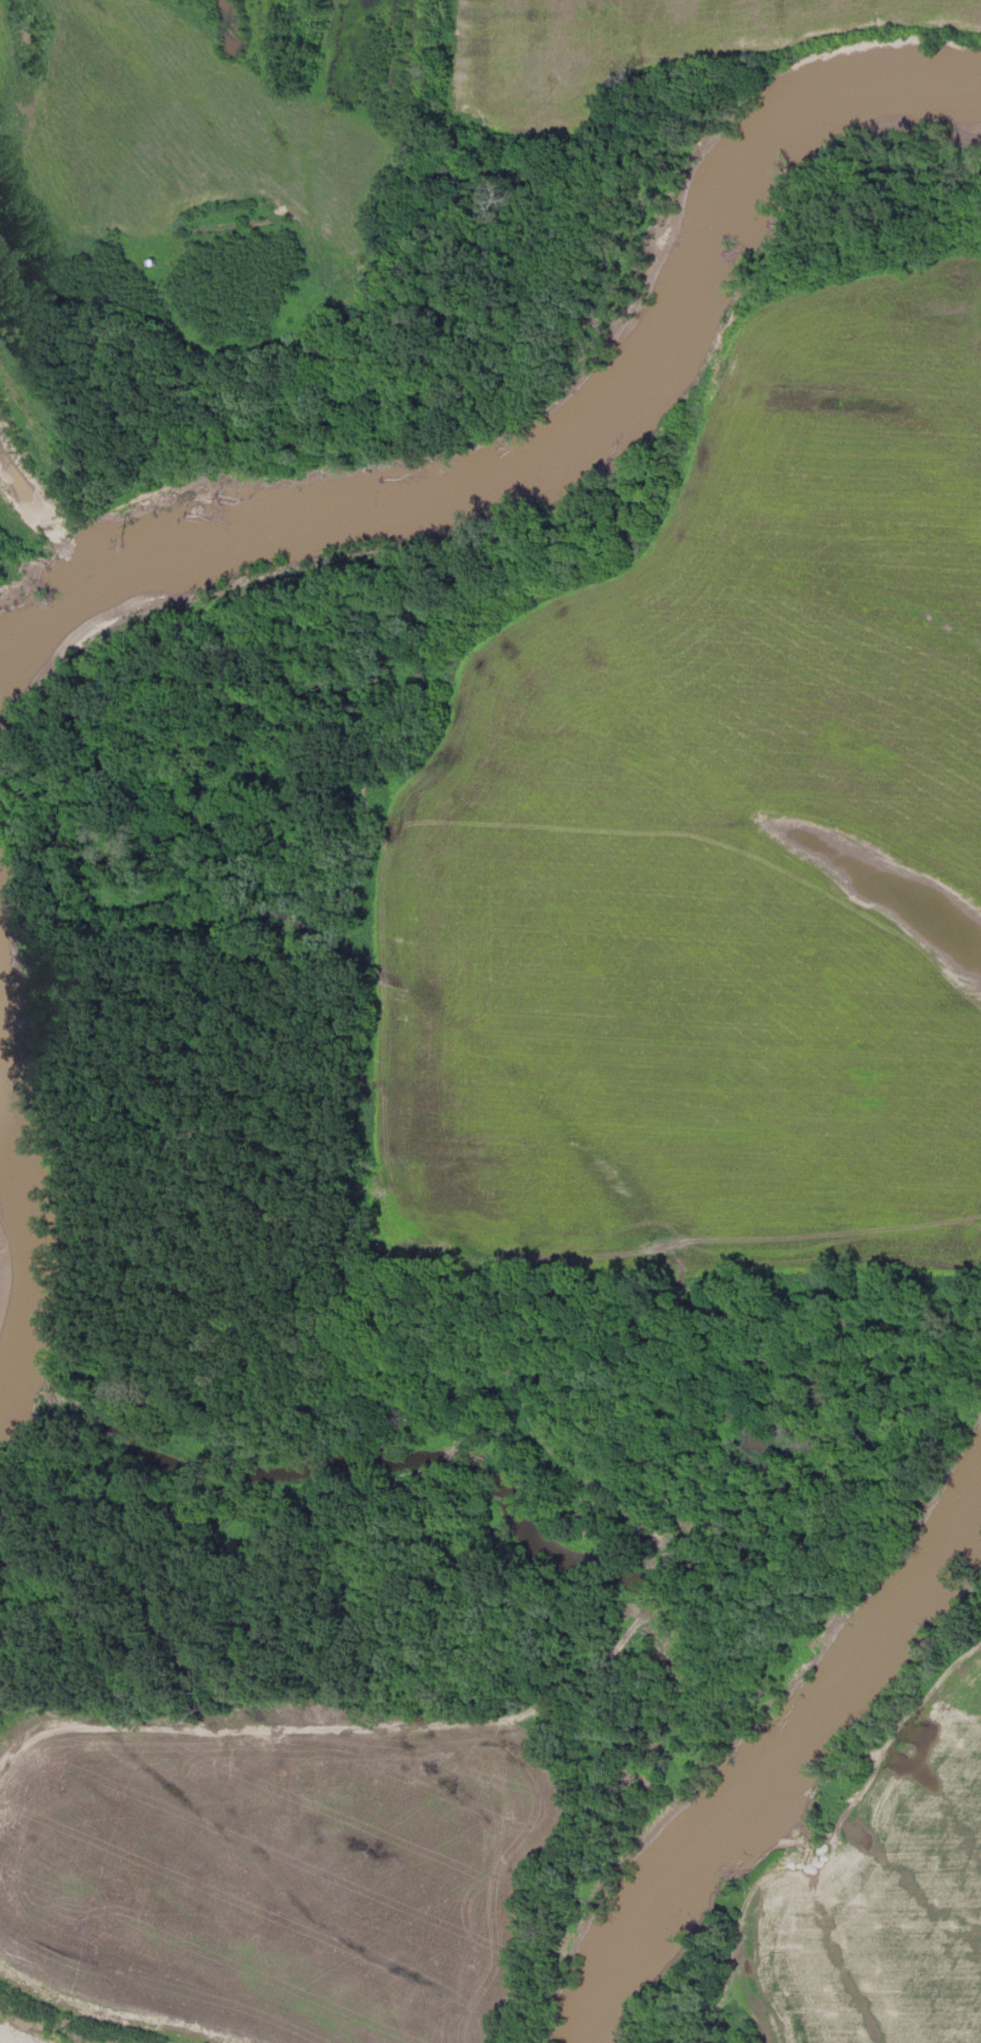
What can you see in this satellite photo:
river: (556, 453)
river: (1, 1194)
river: (760, 1752)

